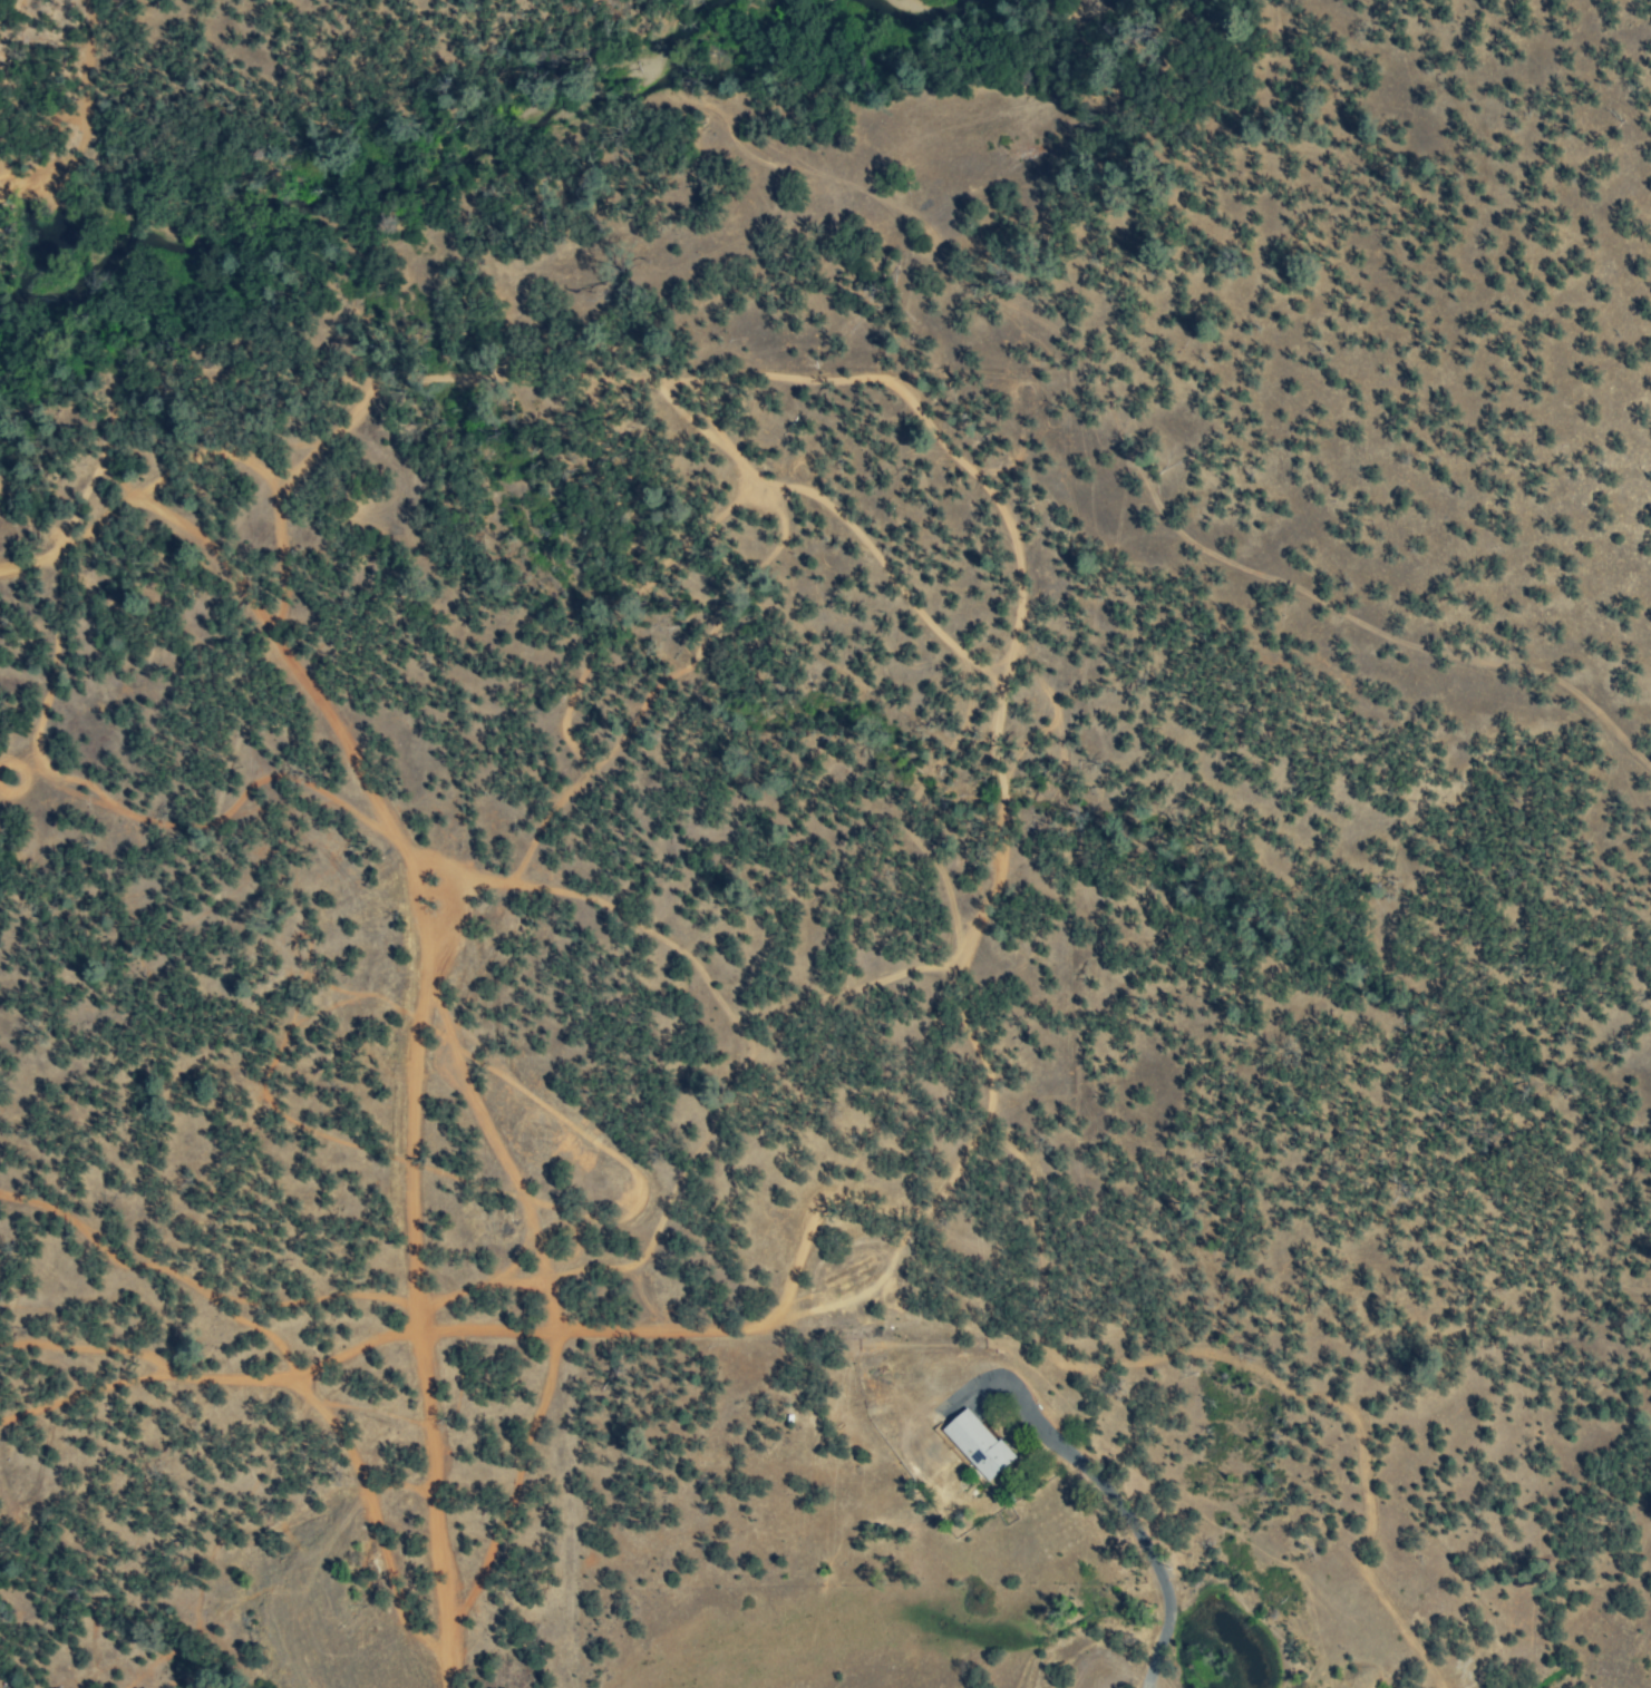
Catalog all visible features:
building: (977, 1445)
road: (1130, 1523)

